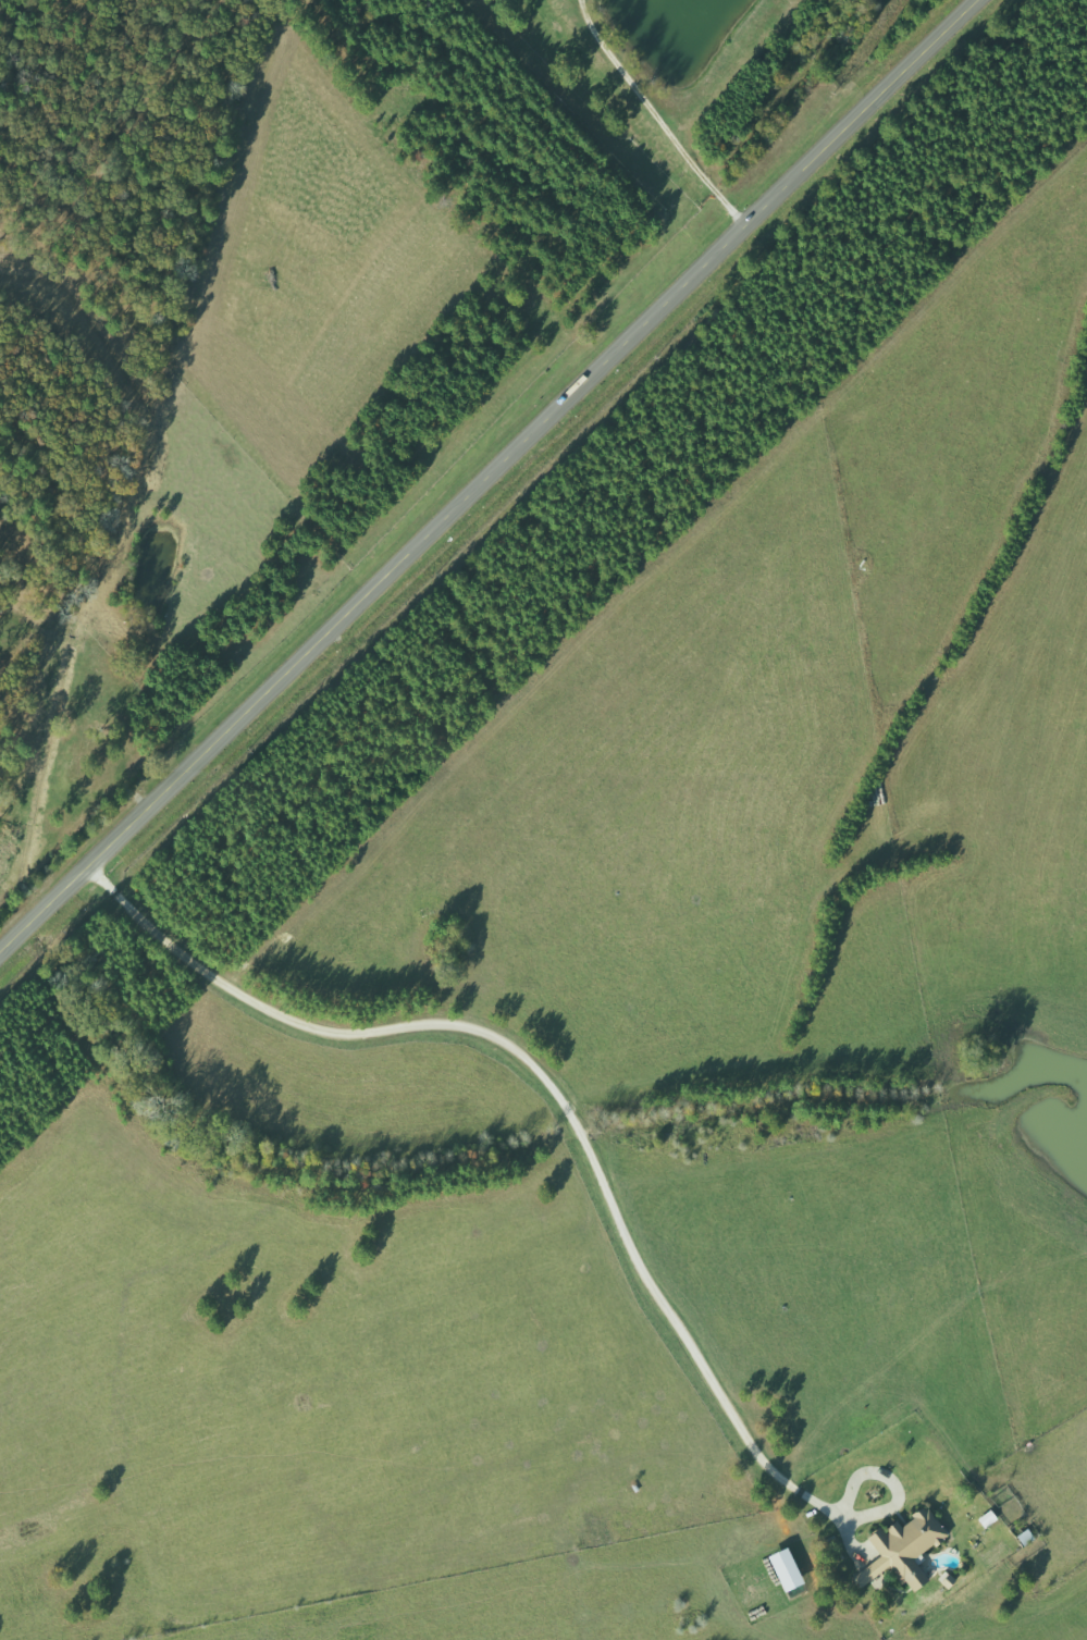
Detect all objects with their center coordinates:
road: (487, 474)
road: (561, 1101)
building: (991, 1517)
building: (909, 1549)
building: (791, 1569)

